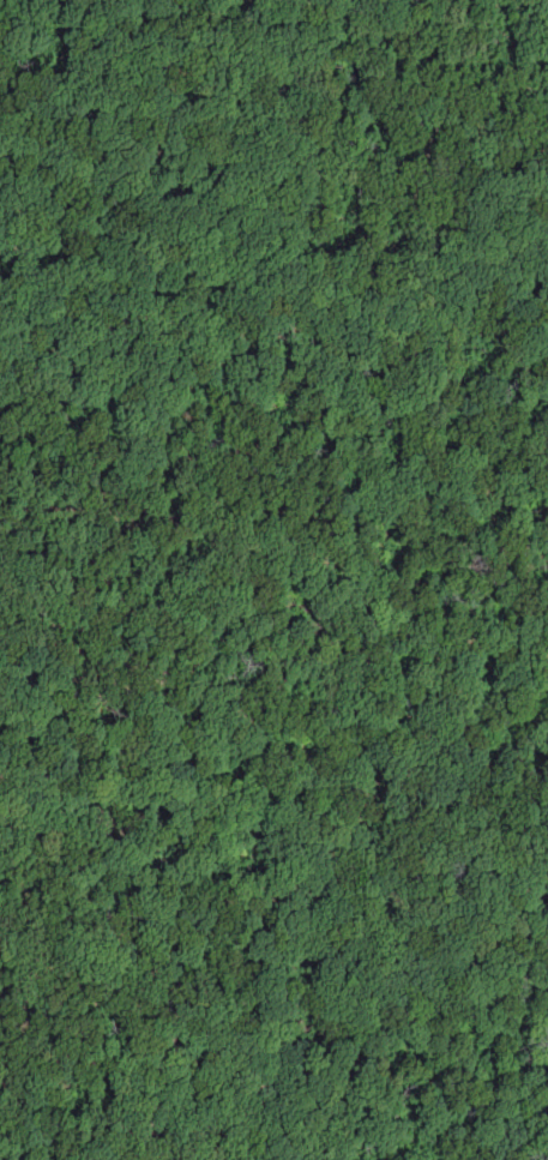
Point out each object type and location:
road: (522, 86)
road: (264, 306)
park: (273, 579)
road: (24, 1000)

